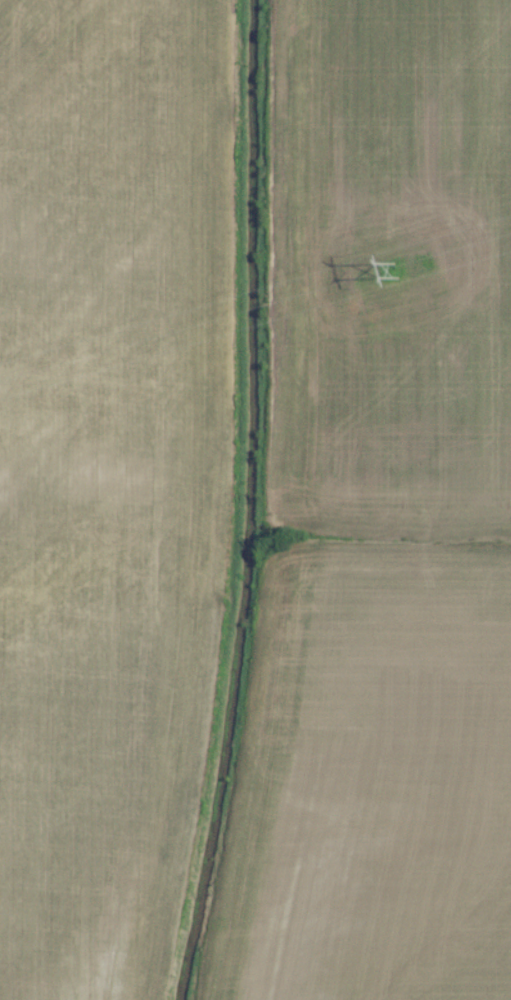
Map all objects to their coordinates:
power tower: (395, 275)

